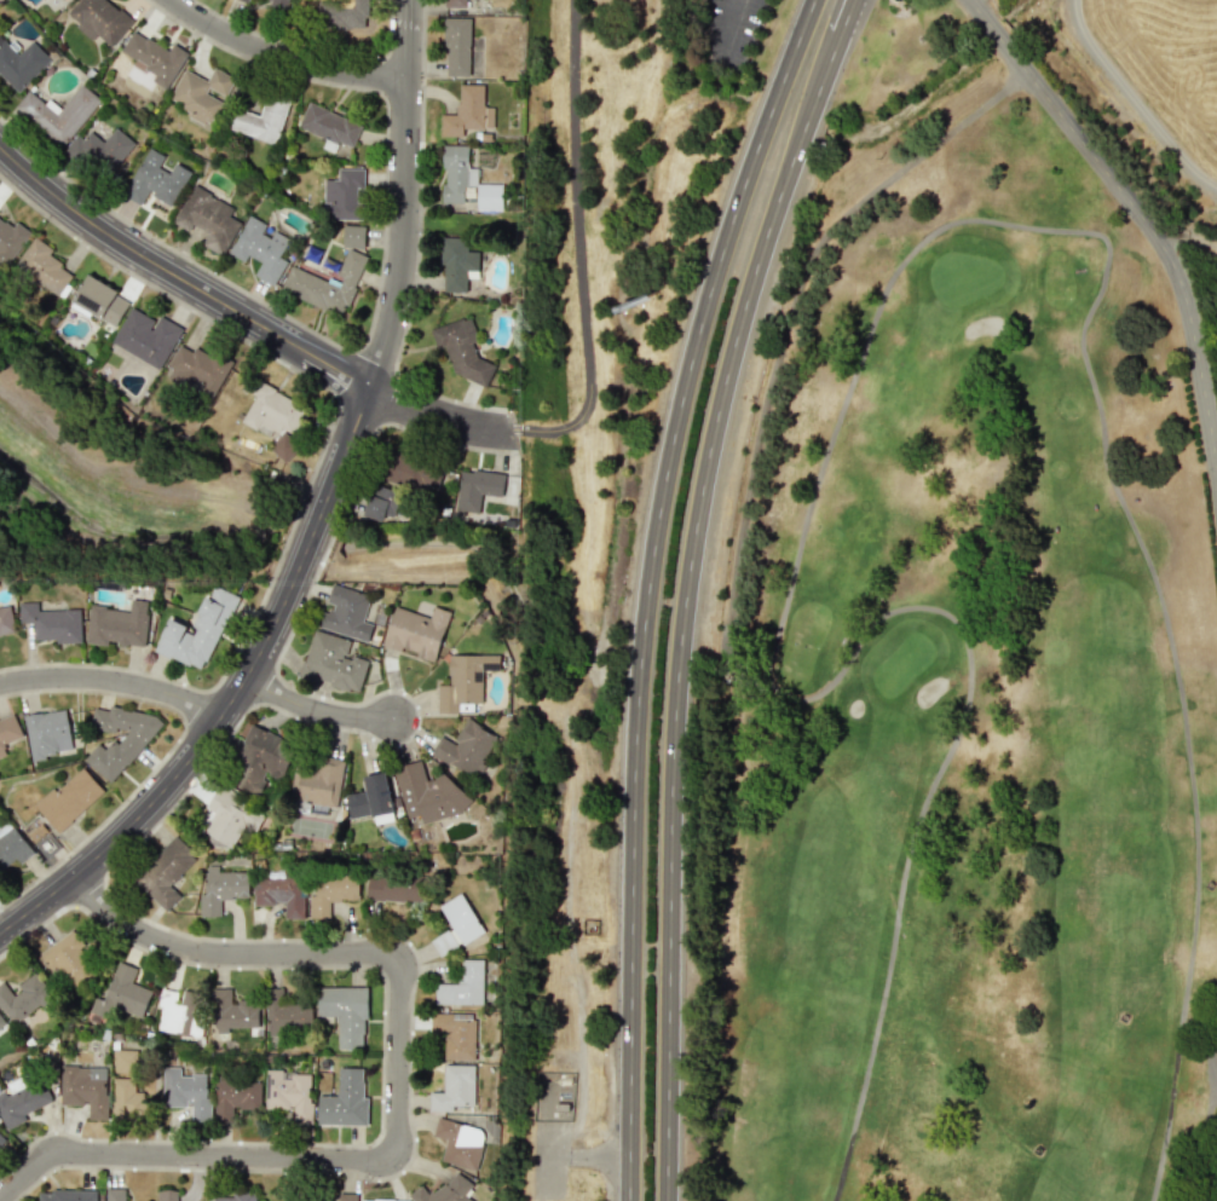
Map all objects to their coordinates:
building: (60, 0)
building: (244, 0)
building: (279, 2)
building: (455, 2)
building: (344, 13)
building: (99, 19)
road: (733, 24)
building: (0, 29)
building: (460, 50)
building: (154, 58)
road: (282, 58)
building: (21, 63)
airport: (1138, 91)
building: (202, 94)
building: (467, 111)
building: (58, 112)
building: (260, 120)
building: (329, 126)
building: (100, 150)
building: (456, 173)
building: (156, 179)
building: (344, 195)
building: (489, 196)
road: (404, 197)
building: (208, 219)
road: (1144, 221)
building: (353, 236)
road: (577, 237)
building: (11, 239)
building: (261, 248)
building: (456, 264)
building: (44, 266)
road: (180, 277)
building: (327, 284)
rooftop solar panel: (91, 296)
road: (883, 298)
building: (100, 300)
building: (146, 336)
building: (462, 350)
building: (196, 371)
building: (273, 416)
road: (448, 420)
building: (411, 473)
building: (477, 487)
building: (382, 503)
road: (647, 588)
road: (685, 588)
railway: (563, 601)
building: (347, 617)
building: (6, 620)
building: (52, 623)
building: (119, 624)
building: (197, 631)
building: (416, 631)
building: (331, 663)
rooftop solar panel: (491, 663)
park: (958, 666)
rooftop solar panel: (479, 674)
road: (115, 680)
building: (465, 680)
road: (235, 698)
road: (315, 709)
building: (8, 732)
building: (48, 733)
building: (125, 746)
building: (466, 747)
building: (260, 760)
building: (317, 783)
building: (426, 793)
building: (69, 798)
building: (371, 799)
building: (230, 818)
park: (310, 826)
building: (12, 845)
building: (165, 872)
building: (393, 888)
building: (221, 889)
building: (282, 894)
building: (331, 894)
building: (456, 924)
building: (68, 959)
building: (462, 985)
building: (121, 995)
building: (23, 998)
building: (179, 1012)
building: (232, 1012)
building: (285, 1012)
building: (345, 1012)
building: (1, 1021)
building: (455, 1034)
road: (390, 1085)
building: (83, 1087)
building: (454, 1089)
building: (186, 1091)
road: (1216, 1091)
building: (289, 1093)
building: (127, 1097)
building: (235, 1097)
building: (21, 1099)
building: (345, 1101)
building: (1, 1141)
building: (460, 1143)
building: (444, 1191)
building: (115, 1194)
building: (67, 1195)
building: (167, 1195)
building: (346, 1196)
building: (232, 1197)
building: (380, 1200)

